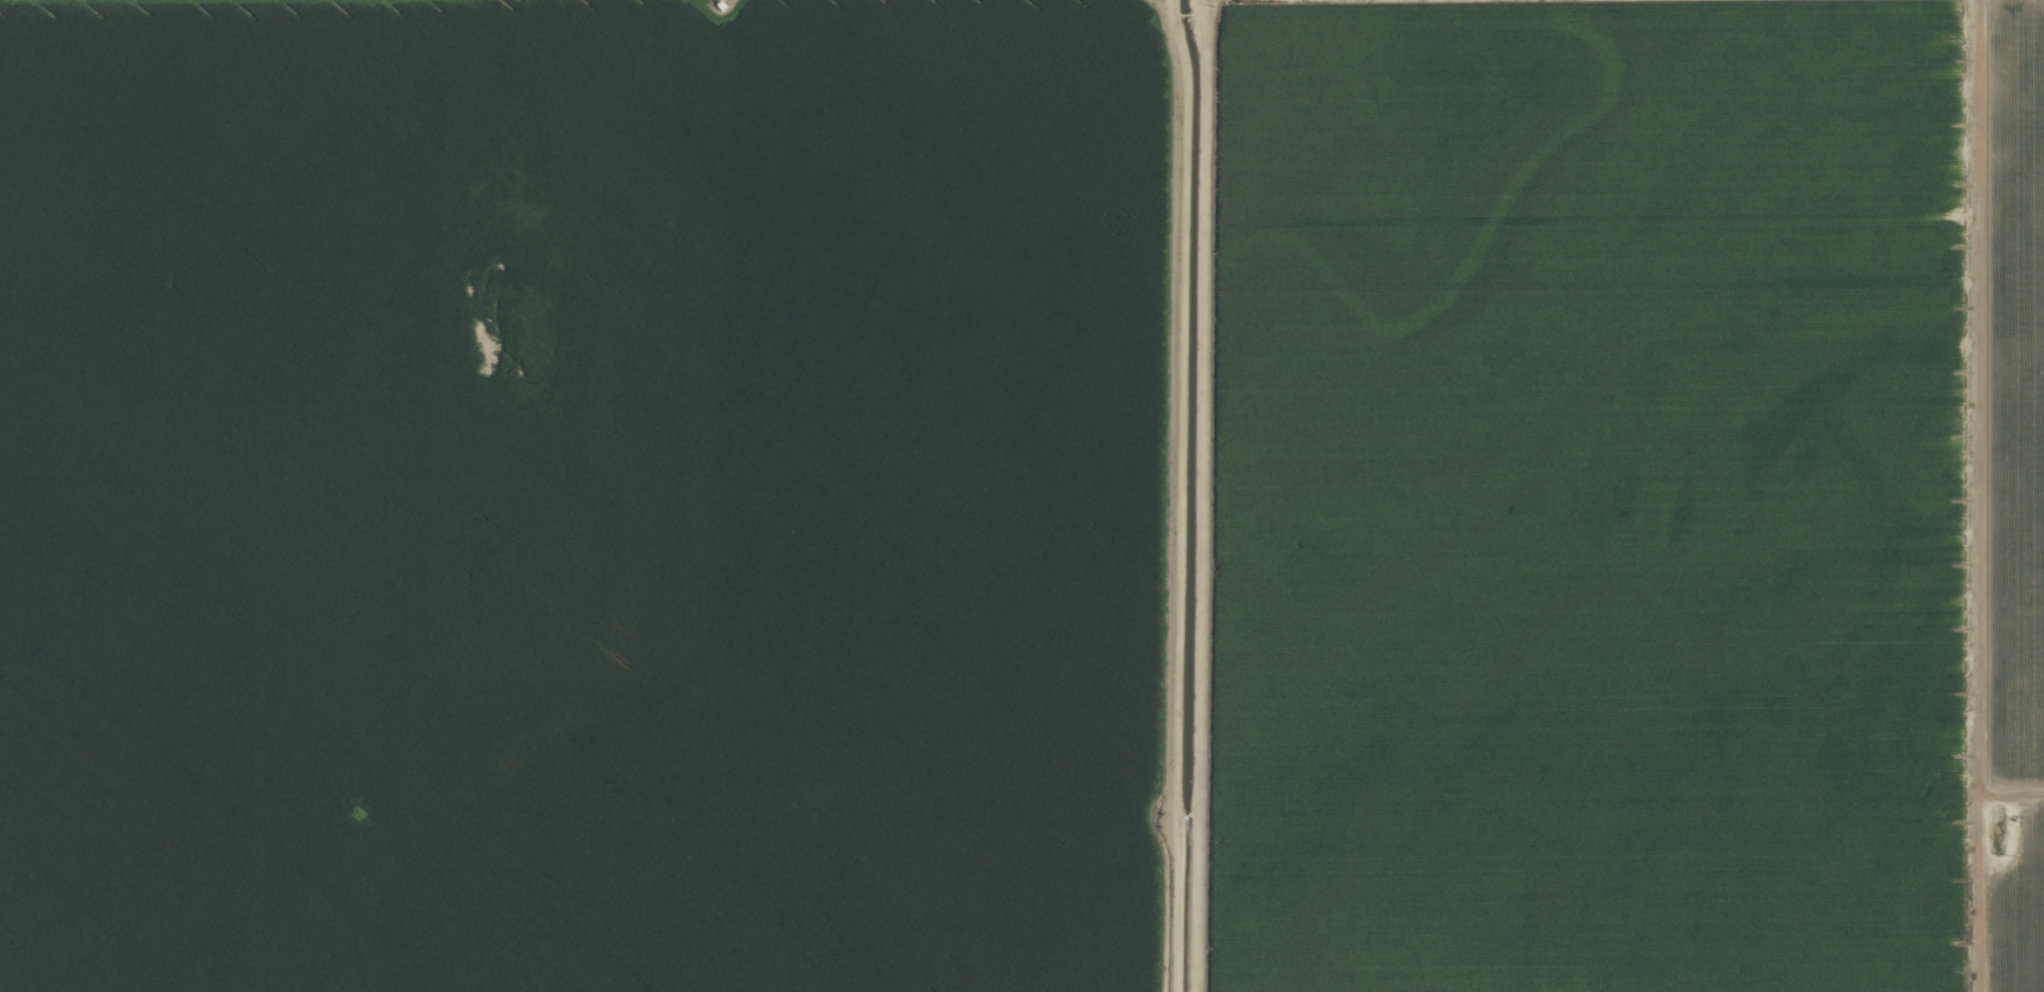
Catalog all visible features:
road: (1179, 494)

